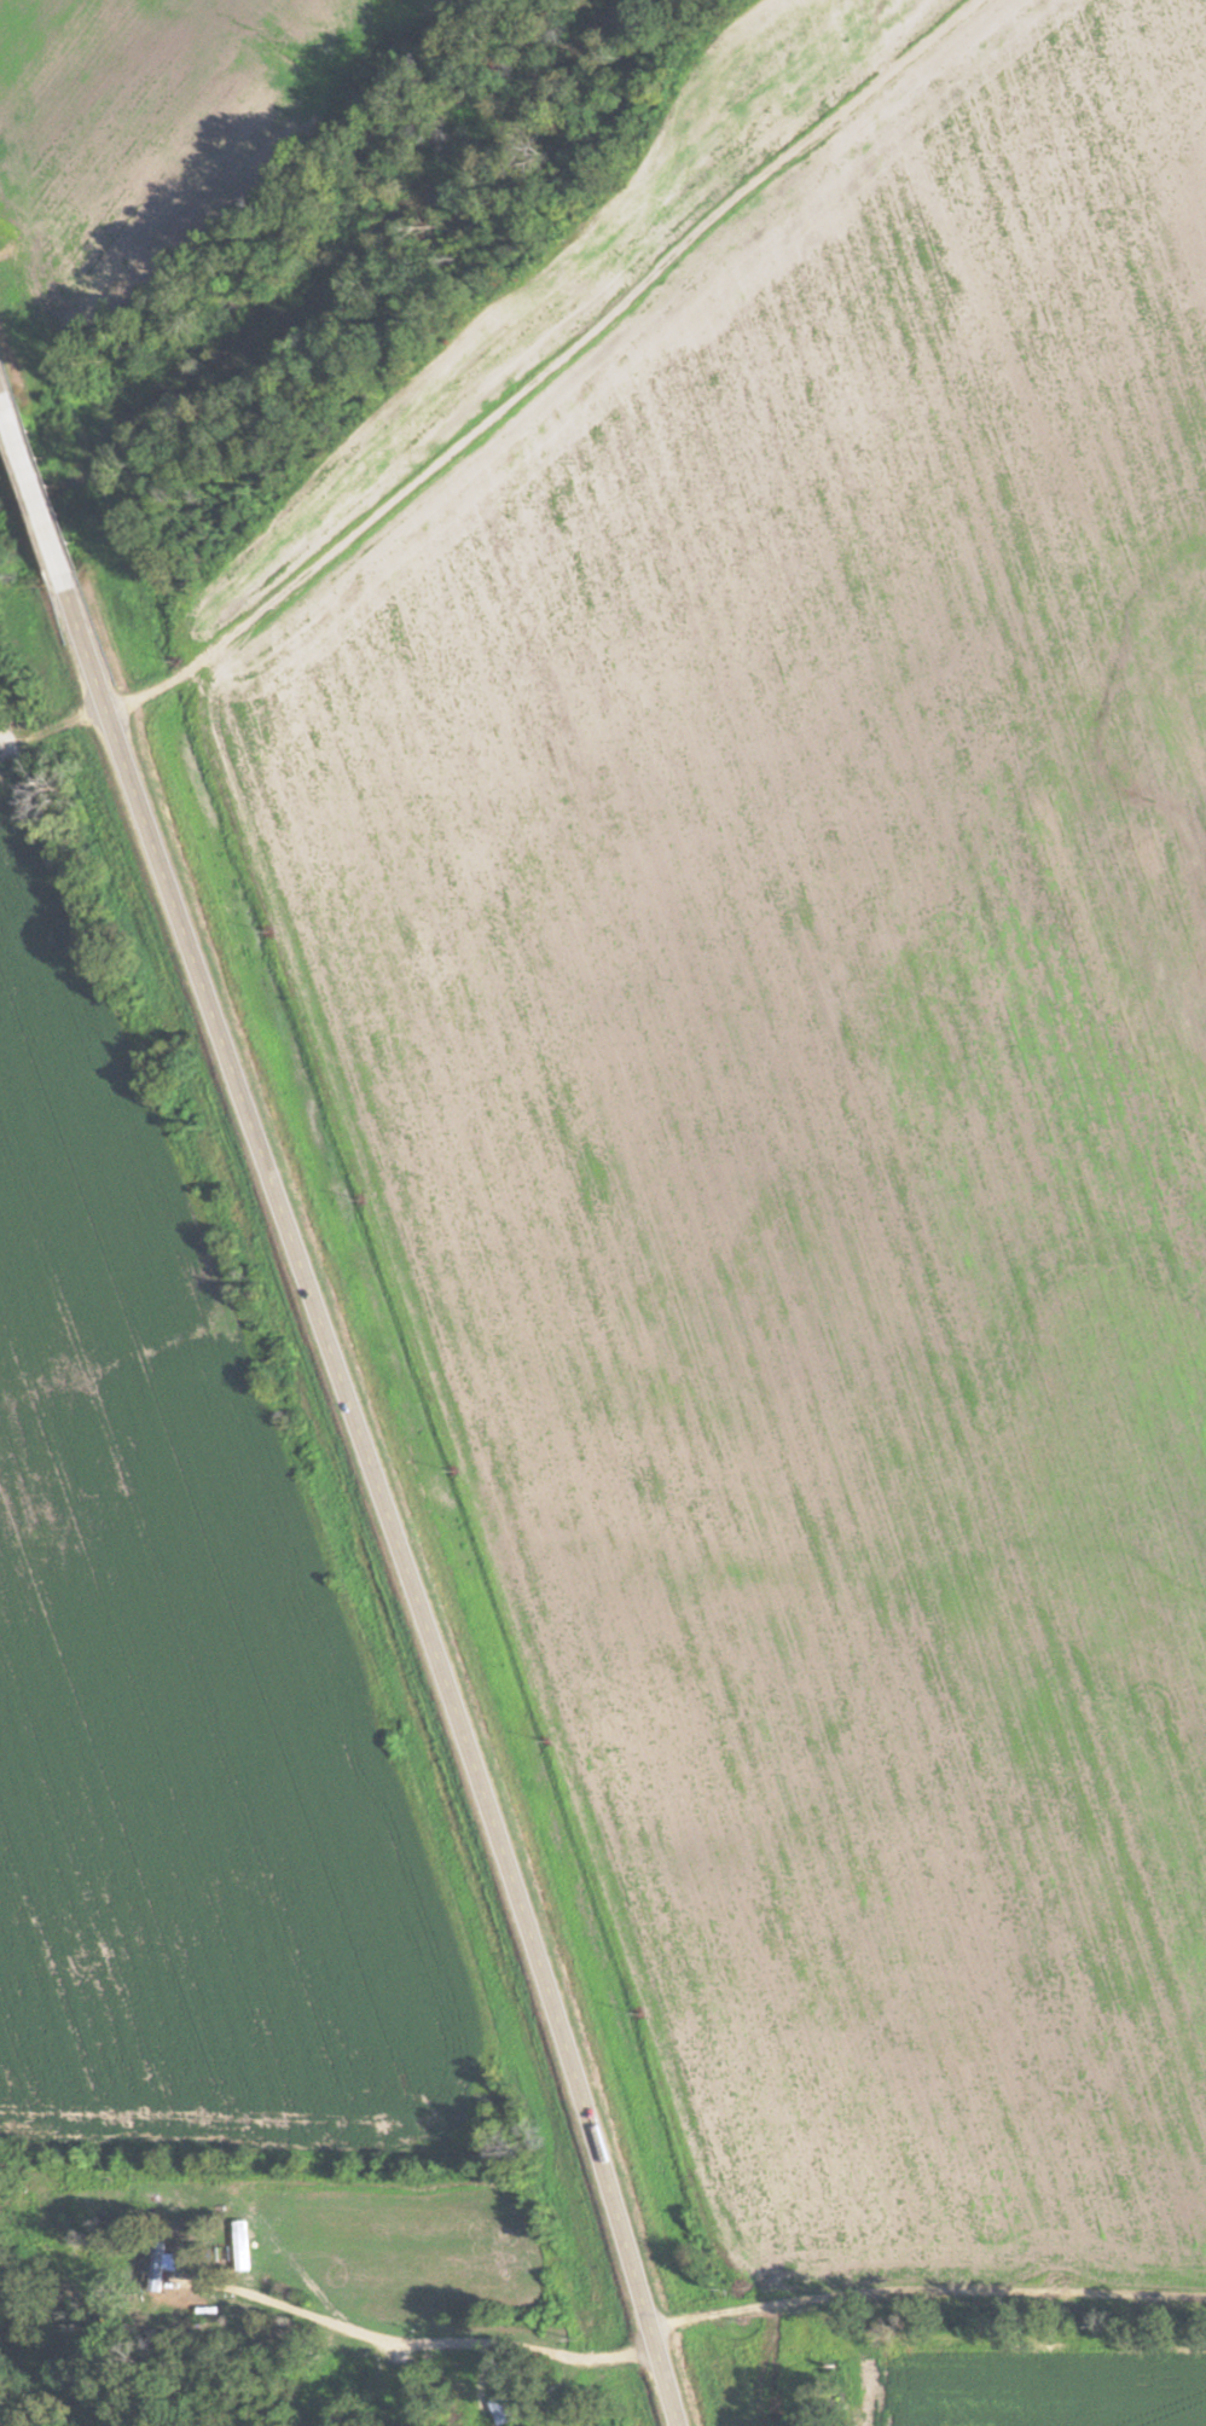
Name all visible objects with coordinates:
river: (331, 274)
road: (549, 365)
road: (33, 495)
road: (53, 727)
road: (382, 1504)
building: (149, 2264)
river: (46, 2385)
building: (504, 2408)

